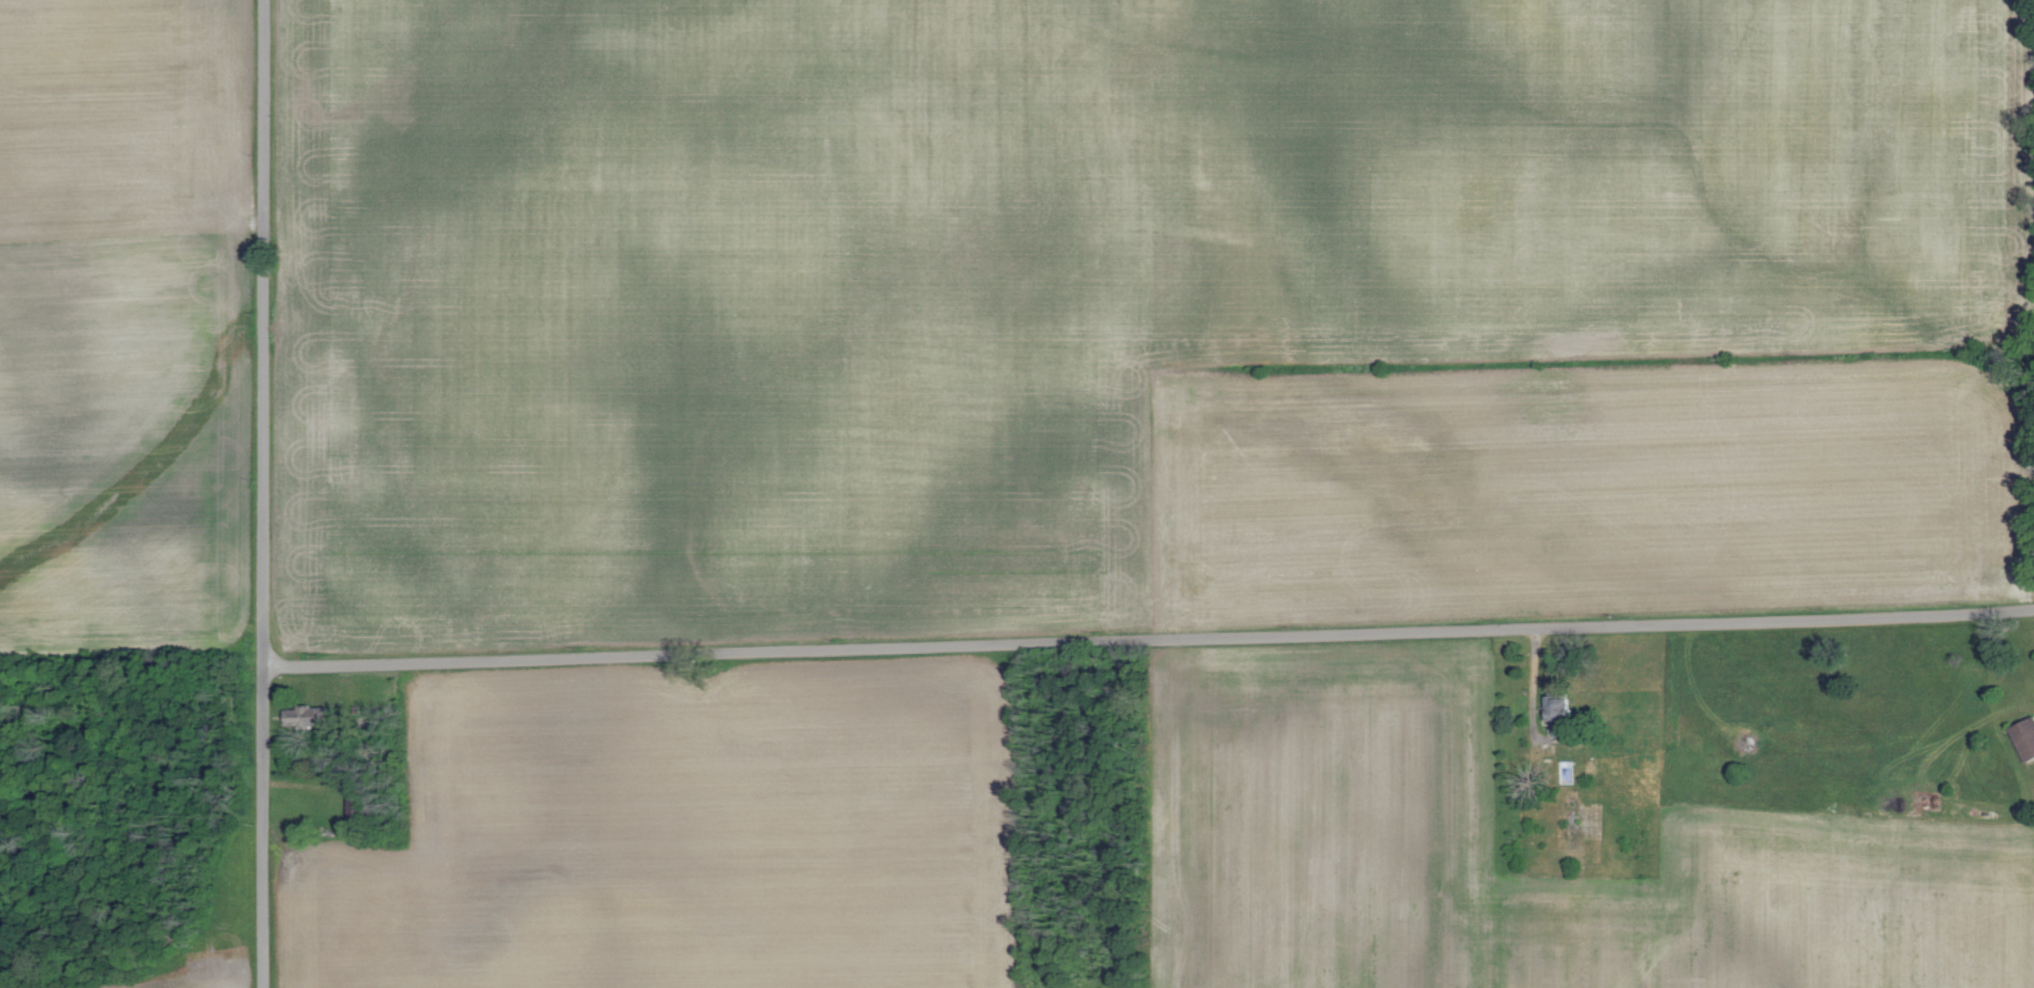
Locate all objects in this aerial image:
road: (262, 494)
road: (1148, 638)
road: (1532, 679)
building: (1562, 711)
building: (2024, 737)

